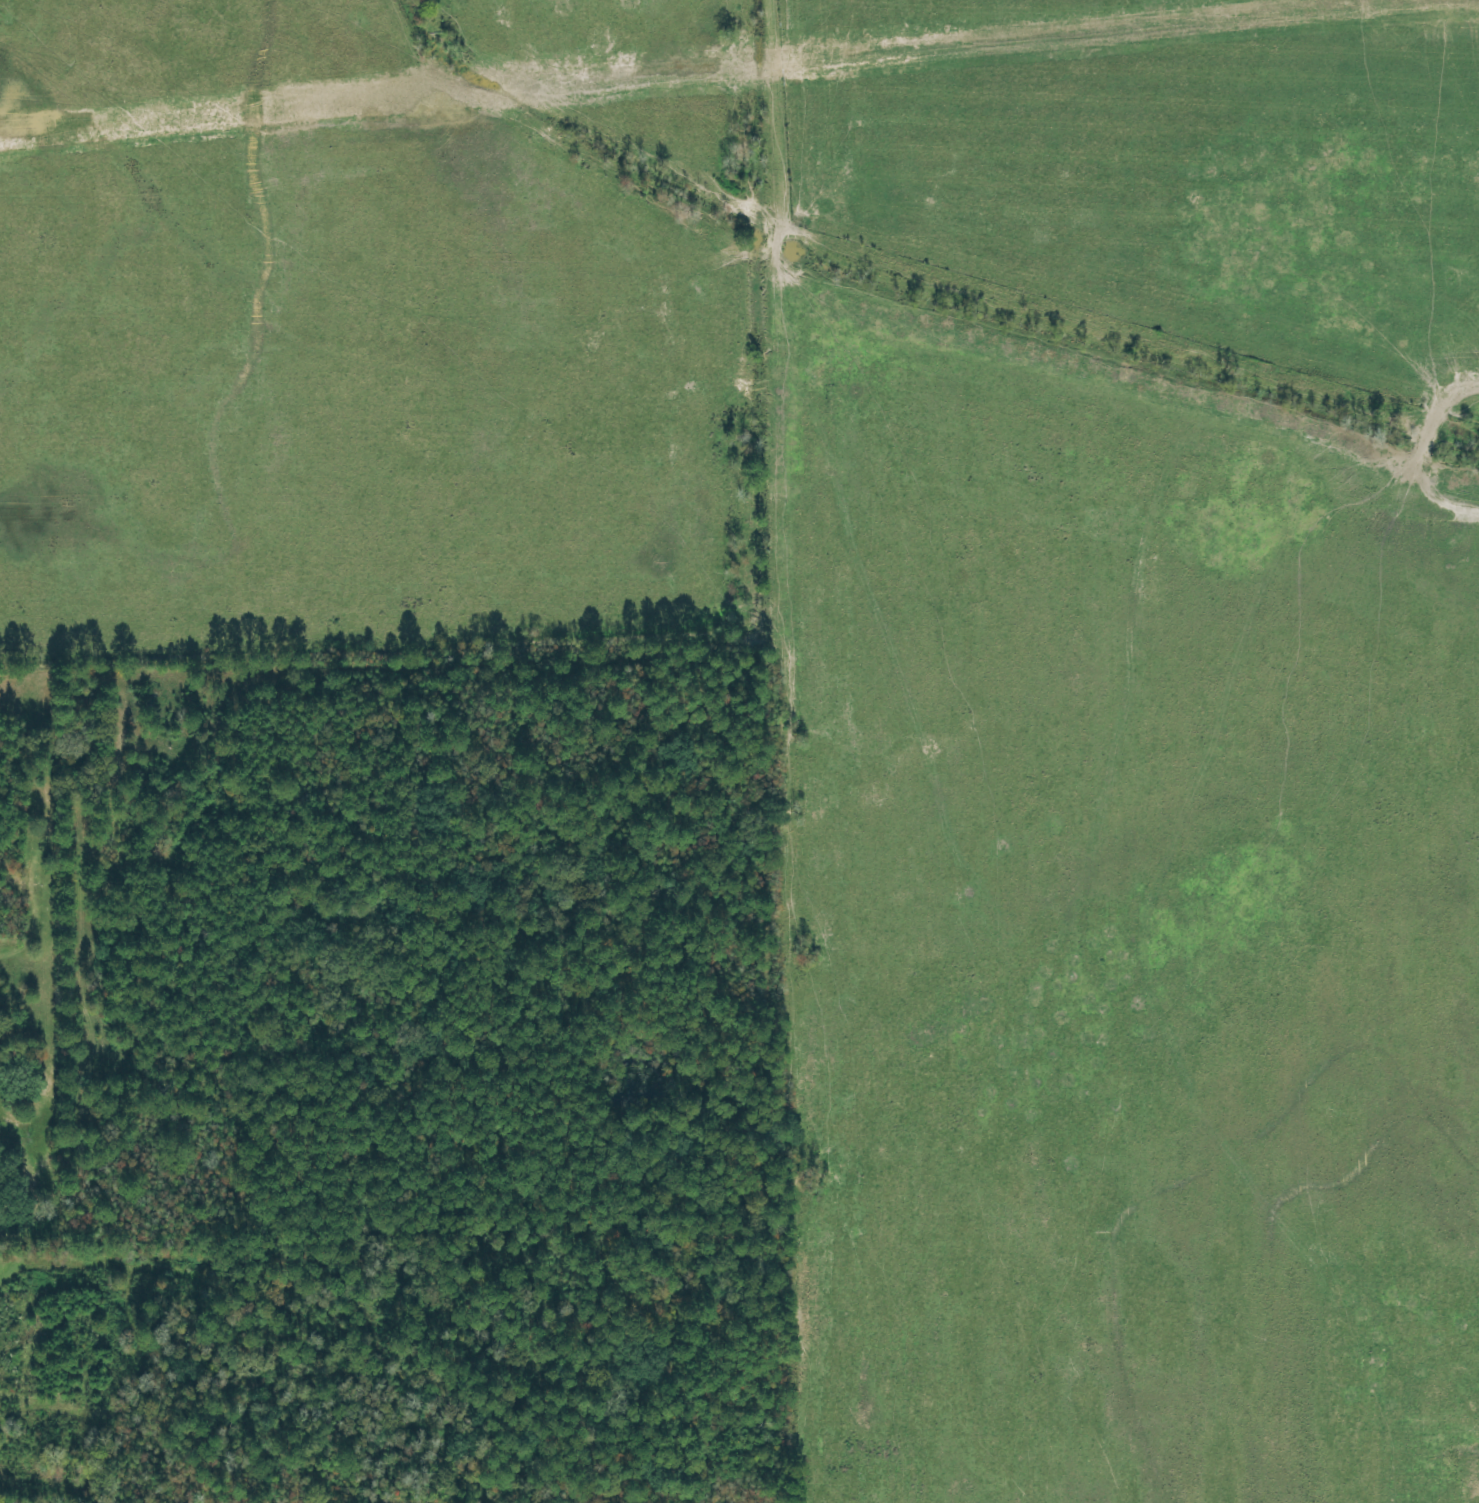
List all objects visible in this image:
road: (91, 1288)

